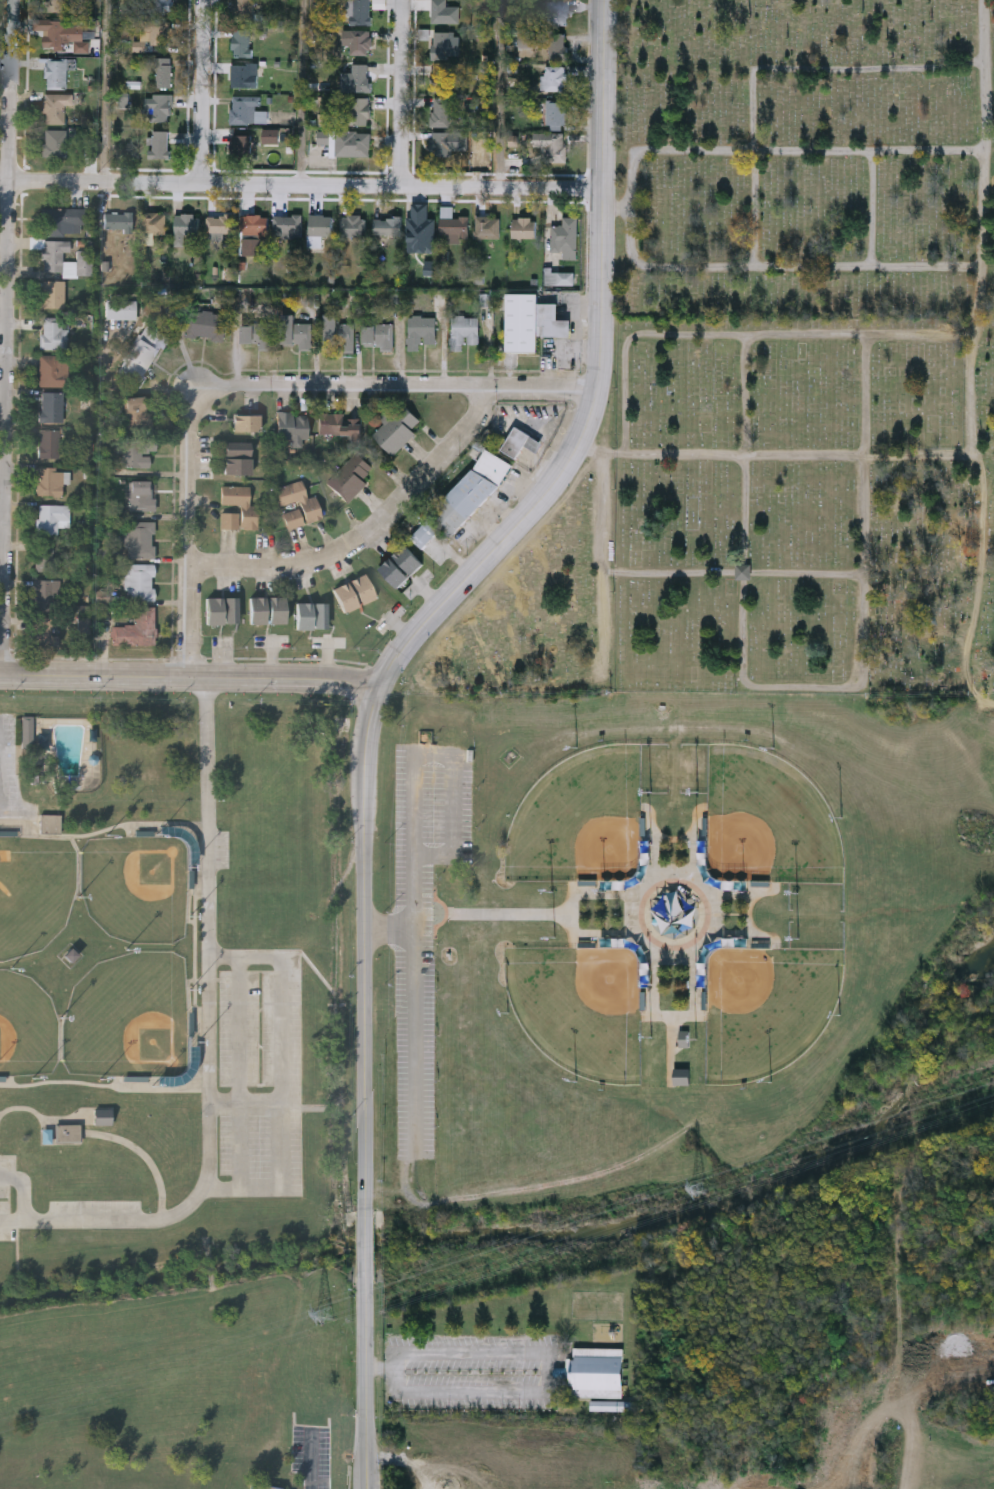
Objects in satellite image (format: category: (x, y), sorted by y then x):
building: (53, 5)
building: (160, 6)
building: (242, 9)
building: (443, 10)
building: (359, 11)
building: (557, 11)
building: (63, 32)
building: (160, 34)
building: (241, 41)
building: (359, 41)
building: (440, 43)
building: (557, 44)
road: (771, 69)
building: (57, 71)
building: (163, 71)
building: (243, 73)
building: (360, 76)
building: (439, 76)
building: (555, 76)
road: (108, 91)
road: (204, 91)
road: (301, 91)
road: (402, 93)
road: (499, 93)
building: (55, 106)
building: (158, 106)
building: (247, 108)
building: (358, 108)
building: (440, 110)
building: (555, 113)
road: (987, 134)
building: (346, 141)
building: (443, 141)
building: (54, 142)
building: (158, 143)
building: (551, 144)
building: (240, 147)
road: (780, 151)
road: (302, 184)
road: (603, 195)
road: (616, 208)
road: (871, 209)
building: (61, 220)
building: (117, 221)
building: (252, 223)
building: (152, 224)
building: (320, 224)
building: (184, 225)
building: (219, 225)
building: (286, 225)
building: (352, 225)
building: (387, 225)
building: (420, 225)
building: (487, 226)
building: (523, 226)
building: (454, 228)
building: (563, 237)
building: (56, 257)
road: (780, 267)
building: (558, 277)
building: (52, 293)
building: (120, 309)
building: (529, 321)
building: (205, 324)
building: (420, 329)
building: (463, 330)
building: (295, 331)
building: (52, 332)
building: (256, 333)
building: (336, 333)
building: (377, 334)
road: (743, 334)
road: (9, 338)
building: (142, 353)
building: (51, 370)
park: (778, 371)
road: (257, 381)
building: (50, 405)
building: (137, 414)
building: (245, 421)
building: (339, 423)
building: (291, 426)
building: (395, 426)
building: (48, 442)
building: (506, 447)
building: (136, 451)
road: (787, 456)
building: (236, 460)
road: (972, 460)
building: (349, 476)
building: (49, 480)
building: (469, 491)
building: (141, 495)
building: (296, 504)
building: (237, 508)
building: (51, 517)
road: (371, 533)
building: (423, 533)
road: (603, 537)
building: (139, 539)
building: (43, 555)
building: (400, 565)
road: (734, 572)
building: (744, 572)
building: (139, 582)
building: (353, 593)
building: (43, 594)
building: (221, 609)
building: (266, 609)
building: (311, 615)
building: (136, 628)
building: (43, 630)
road: (188, 677)
road: (799, 687)
road: (364, 756)
road: (418, 763)
parking lot: (9, 769)
park: (580, 822)
park: (767, 822)
building: (50, 826)
road: (99, 833)
park: (137, 889)
park: (34, 894)
parking lot: (423, 916)
park: (649, 931)
building: (71, 957)
park: (580, 1008)
park: (767, 1008)
road: (415, 1014)
park: (129, 1019)
park: (26, 1028)
road: (210, 1028)
road: (240, 1073)
parking lot: (261, 1074)
building: (682, 1077)
road: (283, 1078)
road: (105, 1087)
park: (177, 1090)
road: (247, 1102)
building: (102, 1118)
road: (101, 1135)
building: (68, 1136)
power tower: (702, 1190)
road: (25, 1191)
parking lot: (56, 1210)
road: (13, 1223)
road: (365, 1249)
road: (210, 1270)
power tower: (323, 1316)
road: (542, 1352)
building: (597, 1371)
road: (366, 1391)
road: (312, 1463)
building: (253, 1488)

